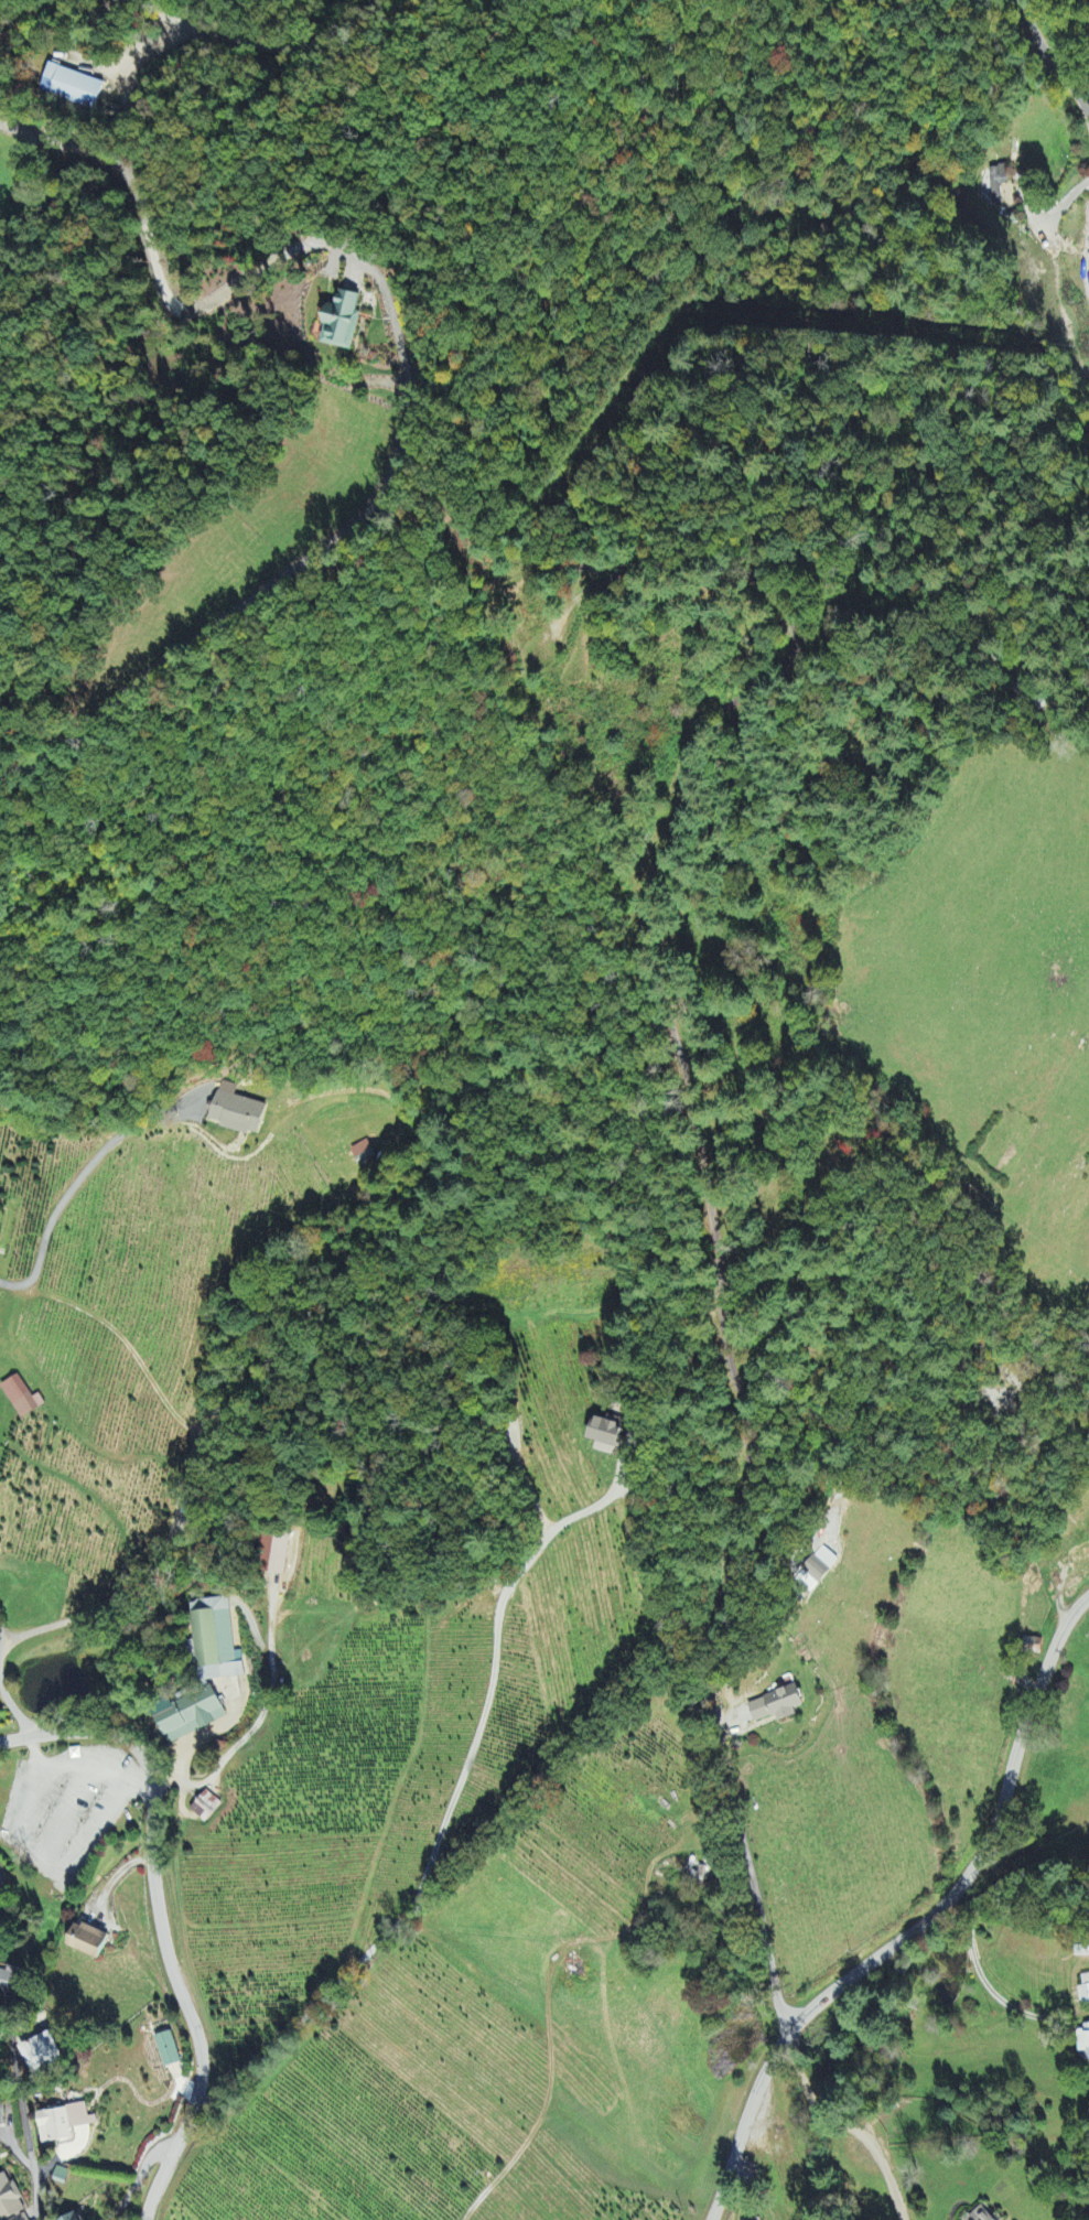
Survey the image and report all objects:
road: (1053, 52)
building: (72, 87)
building: (996, 185)
building: (339, 322)
building: (235, 1112)
building: (363, 1154)
road: (1035, 1333)
building: (21, 1399)
building: (605, 1436)
road: (1044, 1469)
road: (968, 1483)
building: (1079, 1559)
building: (817, 1571)
building: (214, 1642)
building: (1072, 1696)
building: (775, 1707)
building: (187, 1716)
building: (204, 1809)
parking lot: (68, 1819)
road: (892, 1901)
road: (160, 1920)
building: (85, 1943)
building: (9, 1982)
building: (1083, 1993)
building: (1082, 2043)
road: (571, 2044)
building: (37, 2049)
building: (166, 2050)
building: (0, 2116)
road: (23, 2119)
building: (64, 2130)
building: (58, 2175)
road: (138, 2178)
building: (9, 2200)
building: (981, 2214)
building: (71, 2217)

